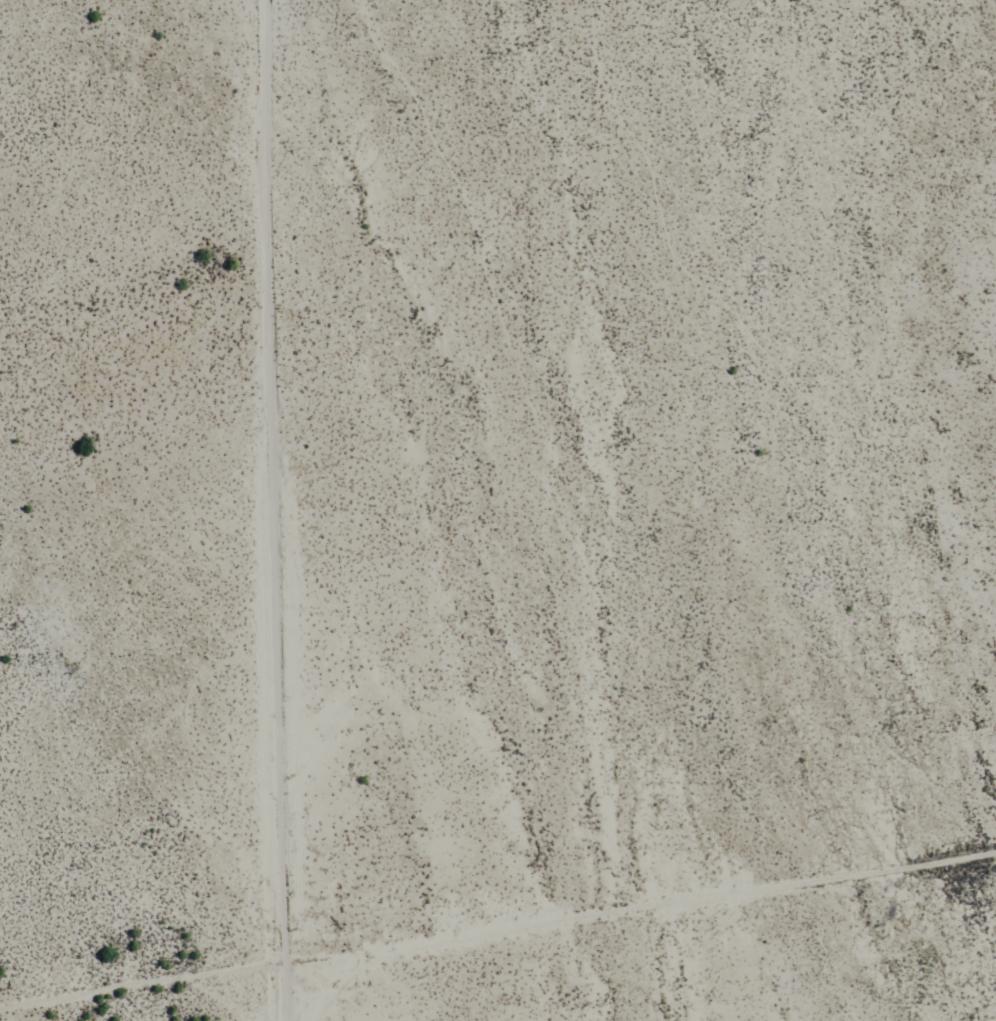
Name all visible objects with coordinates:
road: (263, 510)
road: (633, 910)
road: (134, 984)

